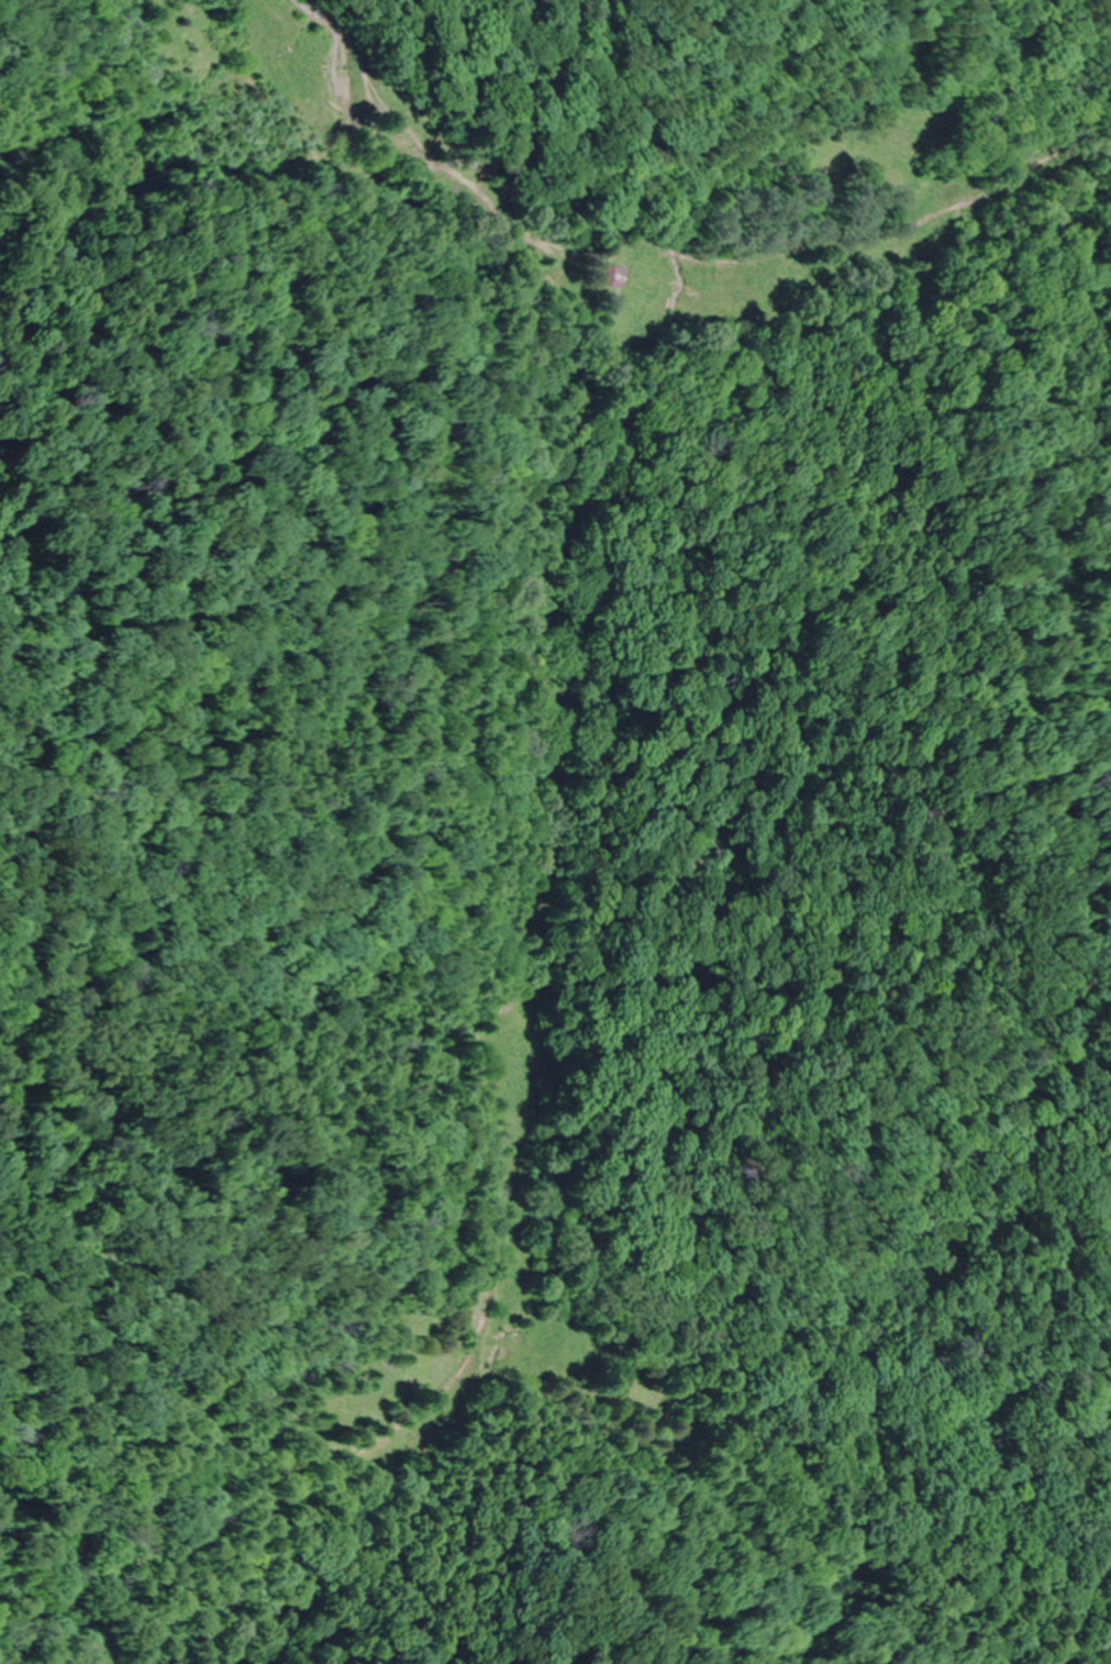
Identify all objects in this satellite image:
building: (613, 276)

